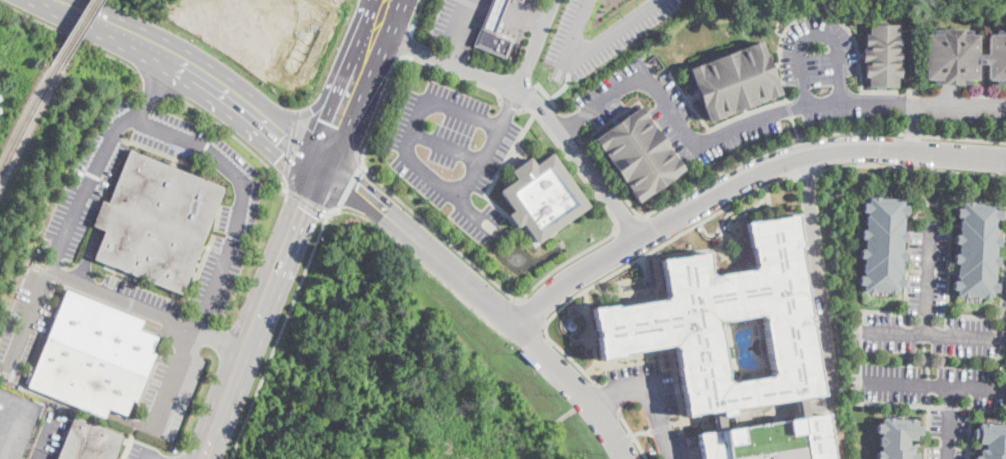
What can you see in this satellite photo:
building: (519, 1)
gas station: (519, 1)
road: (526, 8)
building: (494, 14)
gas station: (494, 14)
road: (415, 16)
road: (520, 16)
parking lot: (448, 21)
road: (463, 21)
road: (537, 23)
road: (375, 30)
road: (813, 33)
railway: (75, 34)
road: (69, 35)
parking lot: (598, 35)
building: (492, 42)
road: (780, 42)
road: (406, 44)
road: (534, 44)
road: (452, 52)
road: (588, 52)
building: (880, 54)
building: (963, 57)
road: (194, 70)
road: (454, 75)
building: (737, 80)
road: (982, 80)
road: (158, 83)
road: (159, 83)
road: (563, 88)
parking lot: (633, 90)
road: (545, 94)
road: (981, 94)
road: (529, 98)
road: (533, 100)
road: (509, 103)
road: (316, 104)
road: (641, 104)
road: (959, 105)
road: (509, 106)
road: (789, 106)
road: (378, 109)
road: (341, 112)
road: (462, 114)
railway: (27, 123)
traffic signals: (336, 125)
road: (412, 127)
road: (736, 127)
road: (795, 127)
road: (330, 130)
road: (238, 137)
traffic signals: (284, 137)
road: (290, 144)
road: (446, 146)
road: (764, 148)
parking lot: (451, 150)
building: (635, 152)
road: (481, 160)
road: (570, 162)
road: (803, 172)
road: (741, 177)
road: (932, 177)
road: (346, 186)
traffic signals: (356, 191)
road: (449, 192)
building: (166, 195)
building: (542, 195)
road: (769, 197)
road: (491, 201)
road: (305, 204)
road: (934, 204)
traffic signals: (301, 207)
road: (728, 214)
parking lot: (73, 216)
road: (628, 221)
road: (819, 224)
road: (66, 231)
road: (440, 234)
building: (882, 245)
road: (230, 246)
building: (145, 247)
road: (739, 249)
building: (976, 250)
road: (695, 252)
road: (906, 259)
road: (566, 261)
road: (948, 263)
road: (627, 264)
road: (626, 279)
road: (927, 280)
road: (820, 288)
road: (645, 296)
road: (486, 298)
road: (122, 301)
parking lot: (139, 301)
parking lot: (1002, 301)
road: (532, 309)
road: (260, 311)
road: (876, 312)
building: (671, 314)
road: (823, 317)
road: (973, 317)
parking lot: (28, 322)
road: (589, 327)
road: (279, 333)
building: (102, 334)
road: (935, 335)
road: (221, 340)
road: (667, 351)
parking lot: (934, 353)
road: (922, 359)
building: (84, 380)
road: (935, 386)
parking lot: (170, 391)
parking lot: (649, 396)
road: (606, 397)
road: (602, 399)
road: (887, 403)
road: (654, 405)
road: (949, 406)
road: (982, 409)
road: (691, 419)
parking lot: (17, 422)
road: (948, 423)
road: (660, 426)
road: (927, 426)
road: (969, 427)
road: (13, 430)
road: (639, 430)
road: (632, 434)
building: (896, 437)
road: (52, 438)
building: (769, 440)
building: (991, 440)
building: (89, 441)
road: (683, 444)
parking garage: (772, 444)
parking lot: (143, 452)
road: (686, 456)
road: (147, 457)
road: (152, 457)

